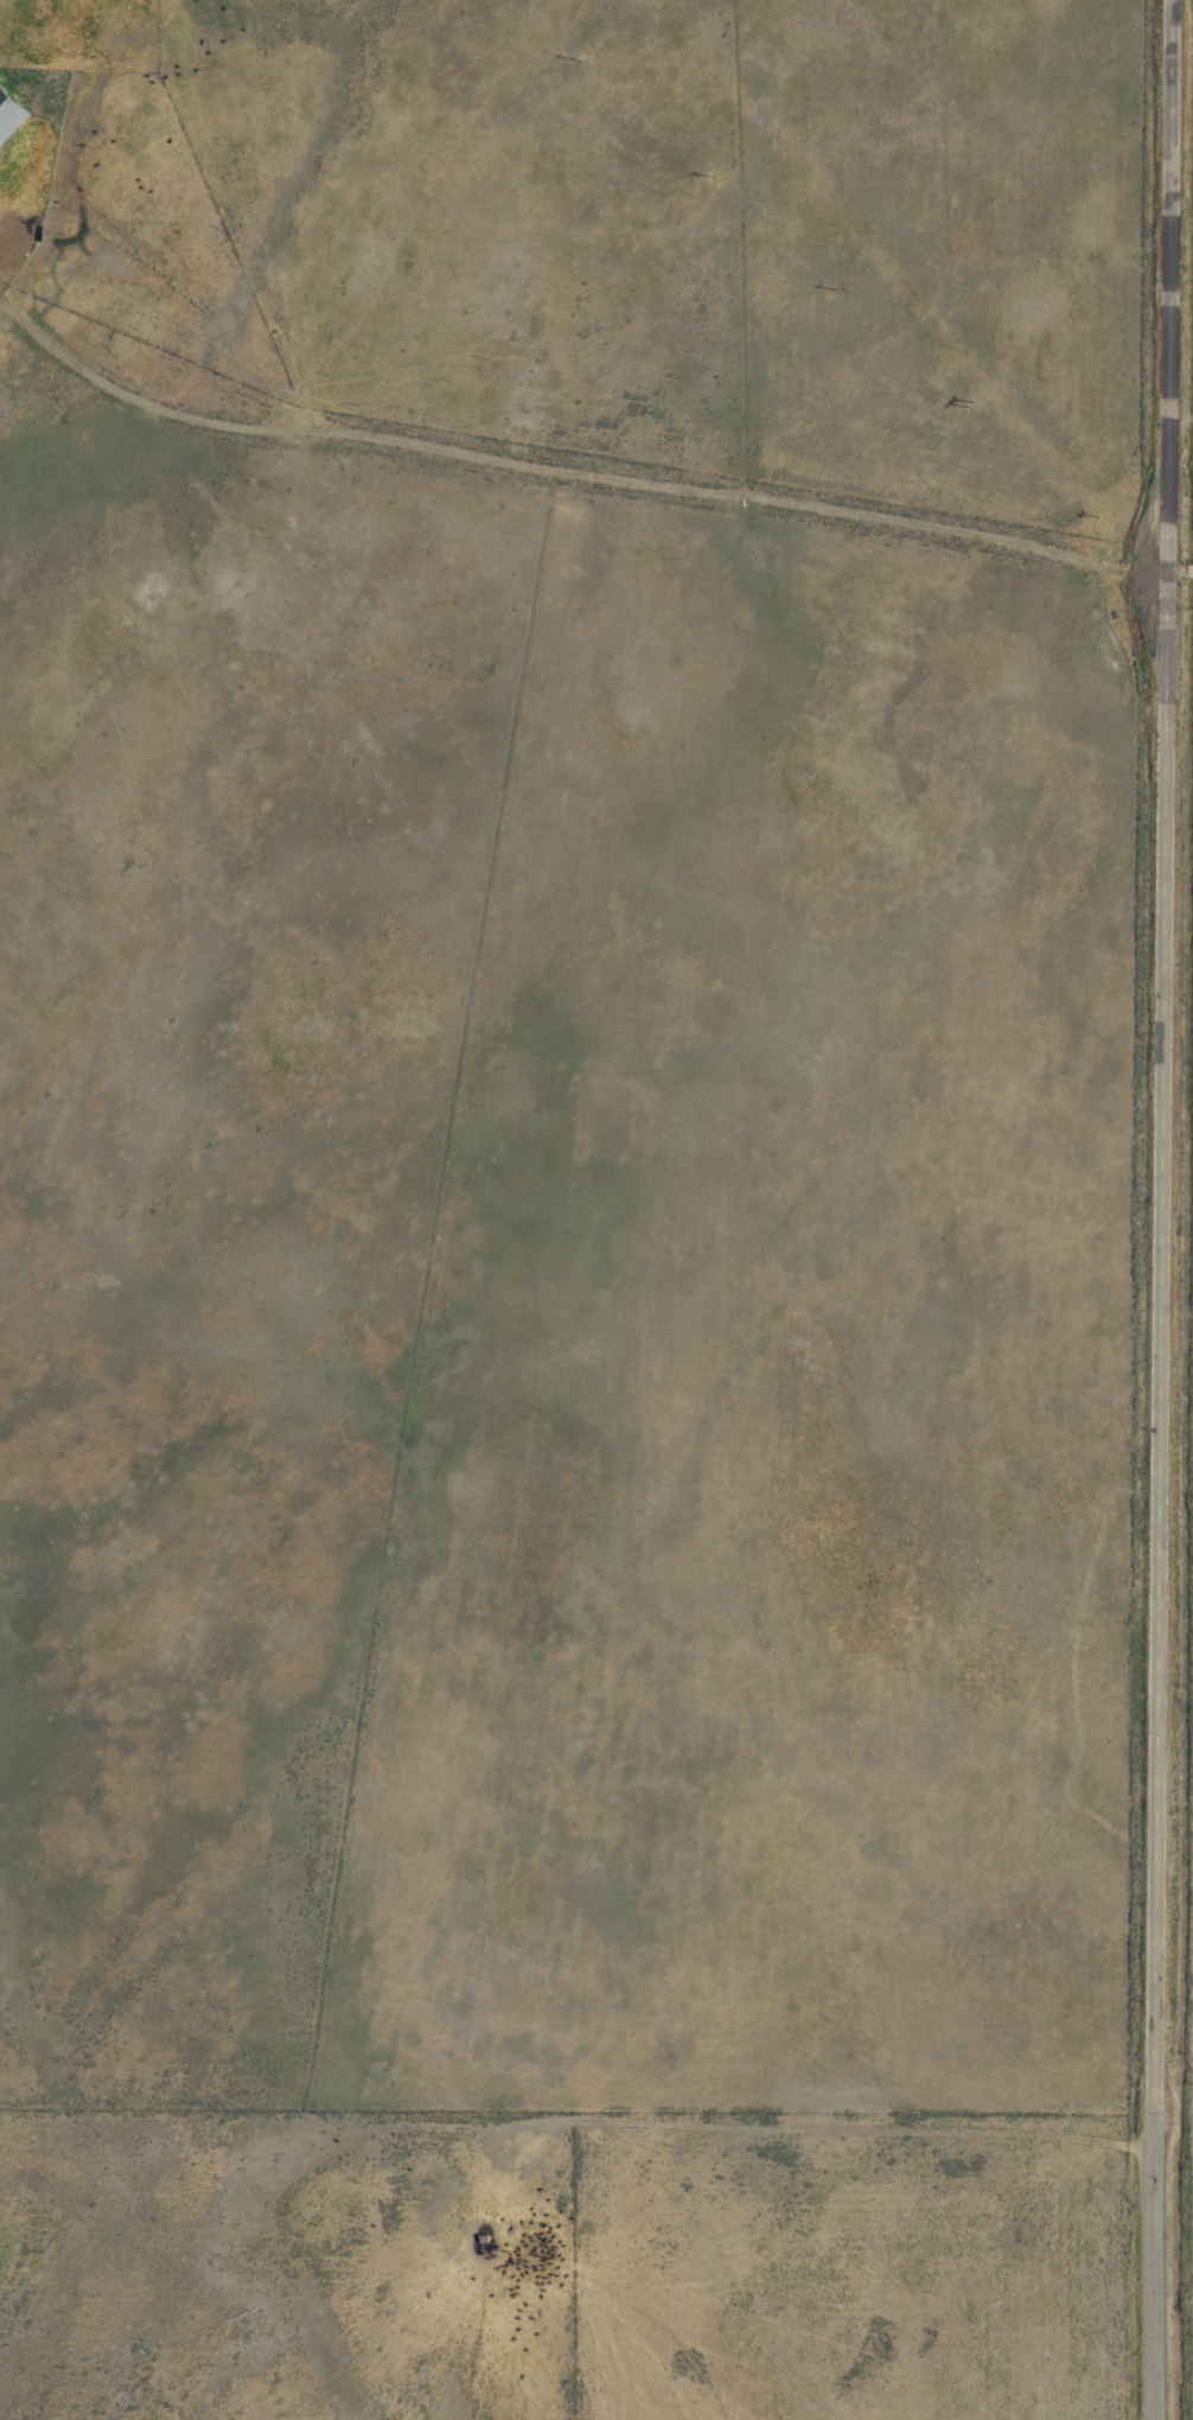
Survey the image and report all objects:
crop: (1157, 289)
crop: (32, 292)
road: (561, 464)
road: (1178, 567)
road: (1161, 1063)
road: (1156, 2273)

